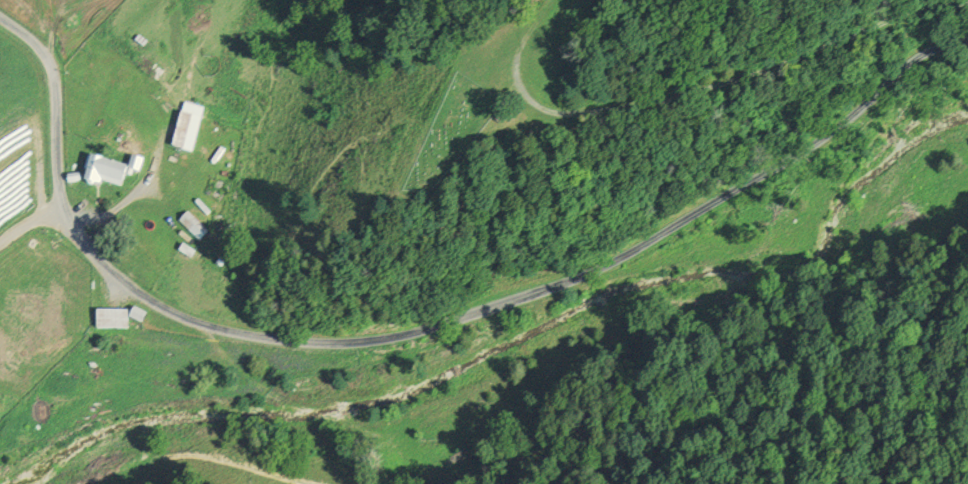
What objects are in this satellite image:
road: (537, 24)
crop: (16, 66)
road: (725, 83)
building: (189, 131)
park: (454, 134)
building: (139, 165)
building: (107, 170)
building: (195, 225)
road: (30, 227)
building: (188, 250)
building: (142, 316)
building: (116, 319)
road: (421, 329)

